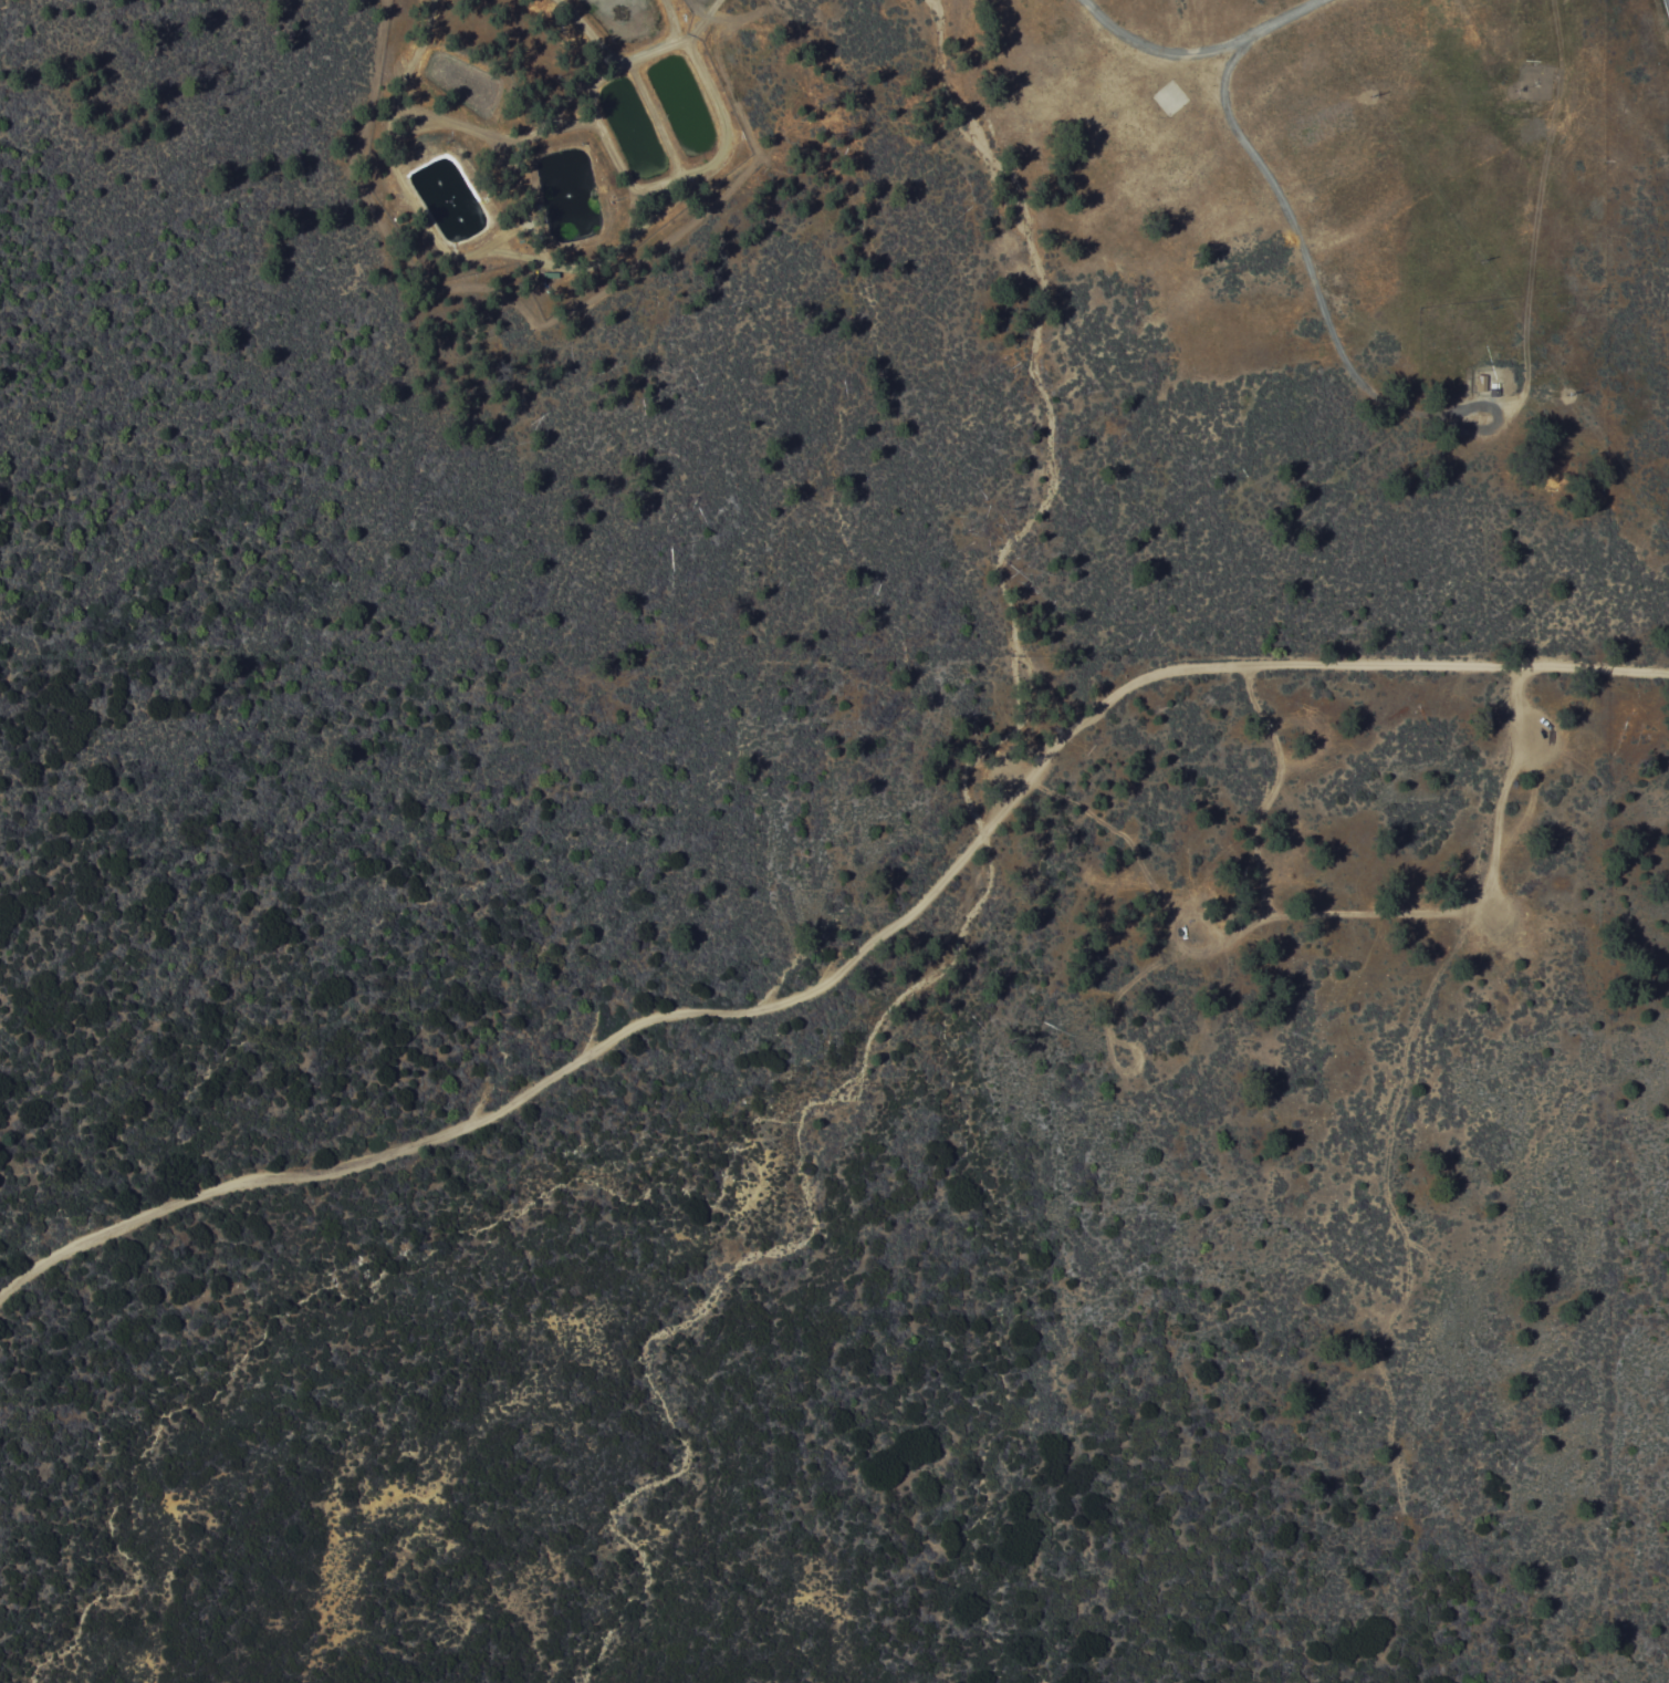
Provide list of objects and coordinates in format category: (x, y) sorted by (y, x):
road: (1197, 60)
wastewater plant: (554, 147)
road: (1274, 789)
road: (1346, 914)
road: (853, 959)
road: (1392, 1224)

